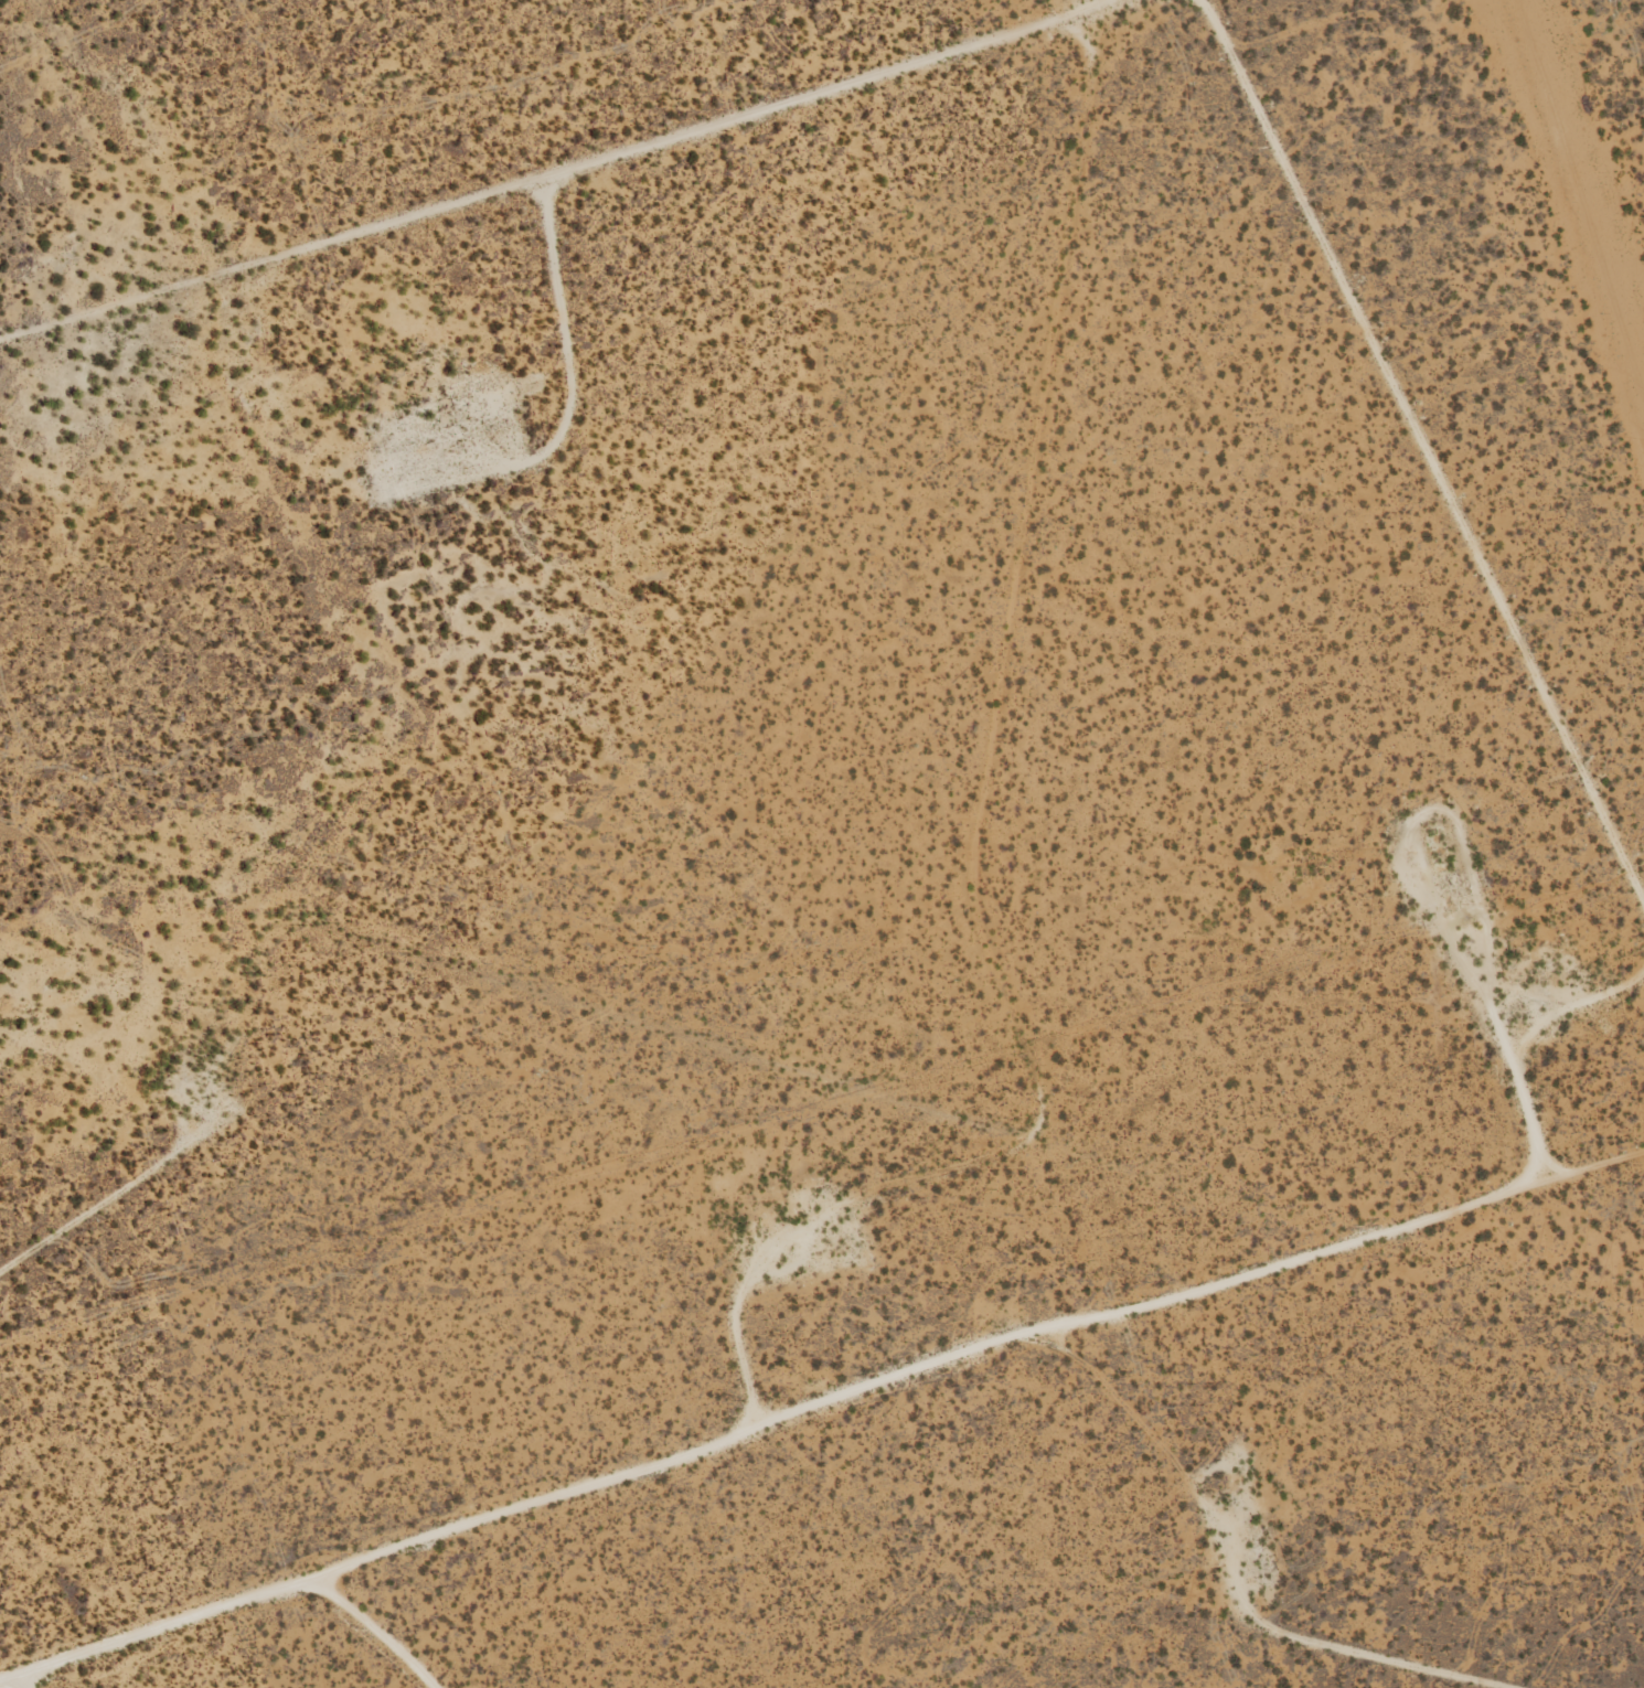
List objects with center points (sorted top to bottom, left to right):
road: (1430, 462)
road: (1502, 1027)
road: (102, 1203)
road: (819, 1401)
road: (343, 1633)
road: (23, 1680)
road: (1299, 1684)

